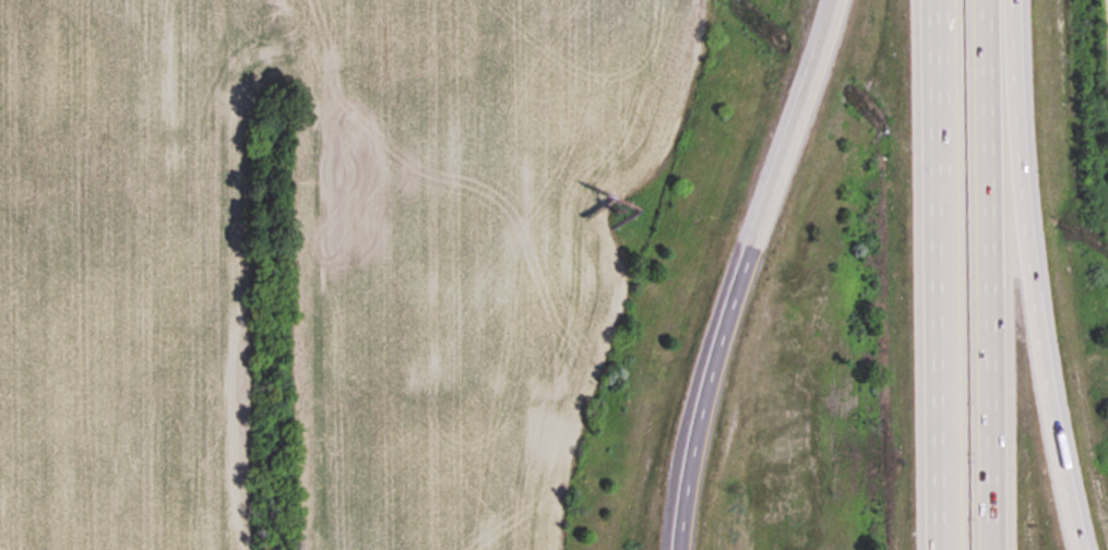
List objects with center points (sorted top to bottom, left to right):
road: (741, 271)
road: (939, 274)
road: (990, 275)
road: (1028, 276)

